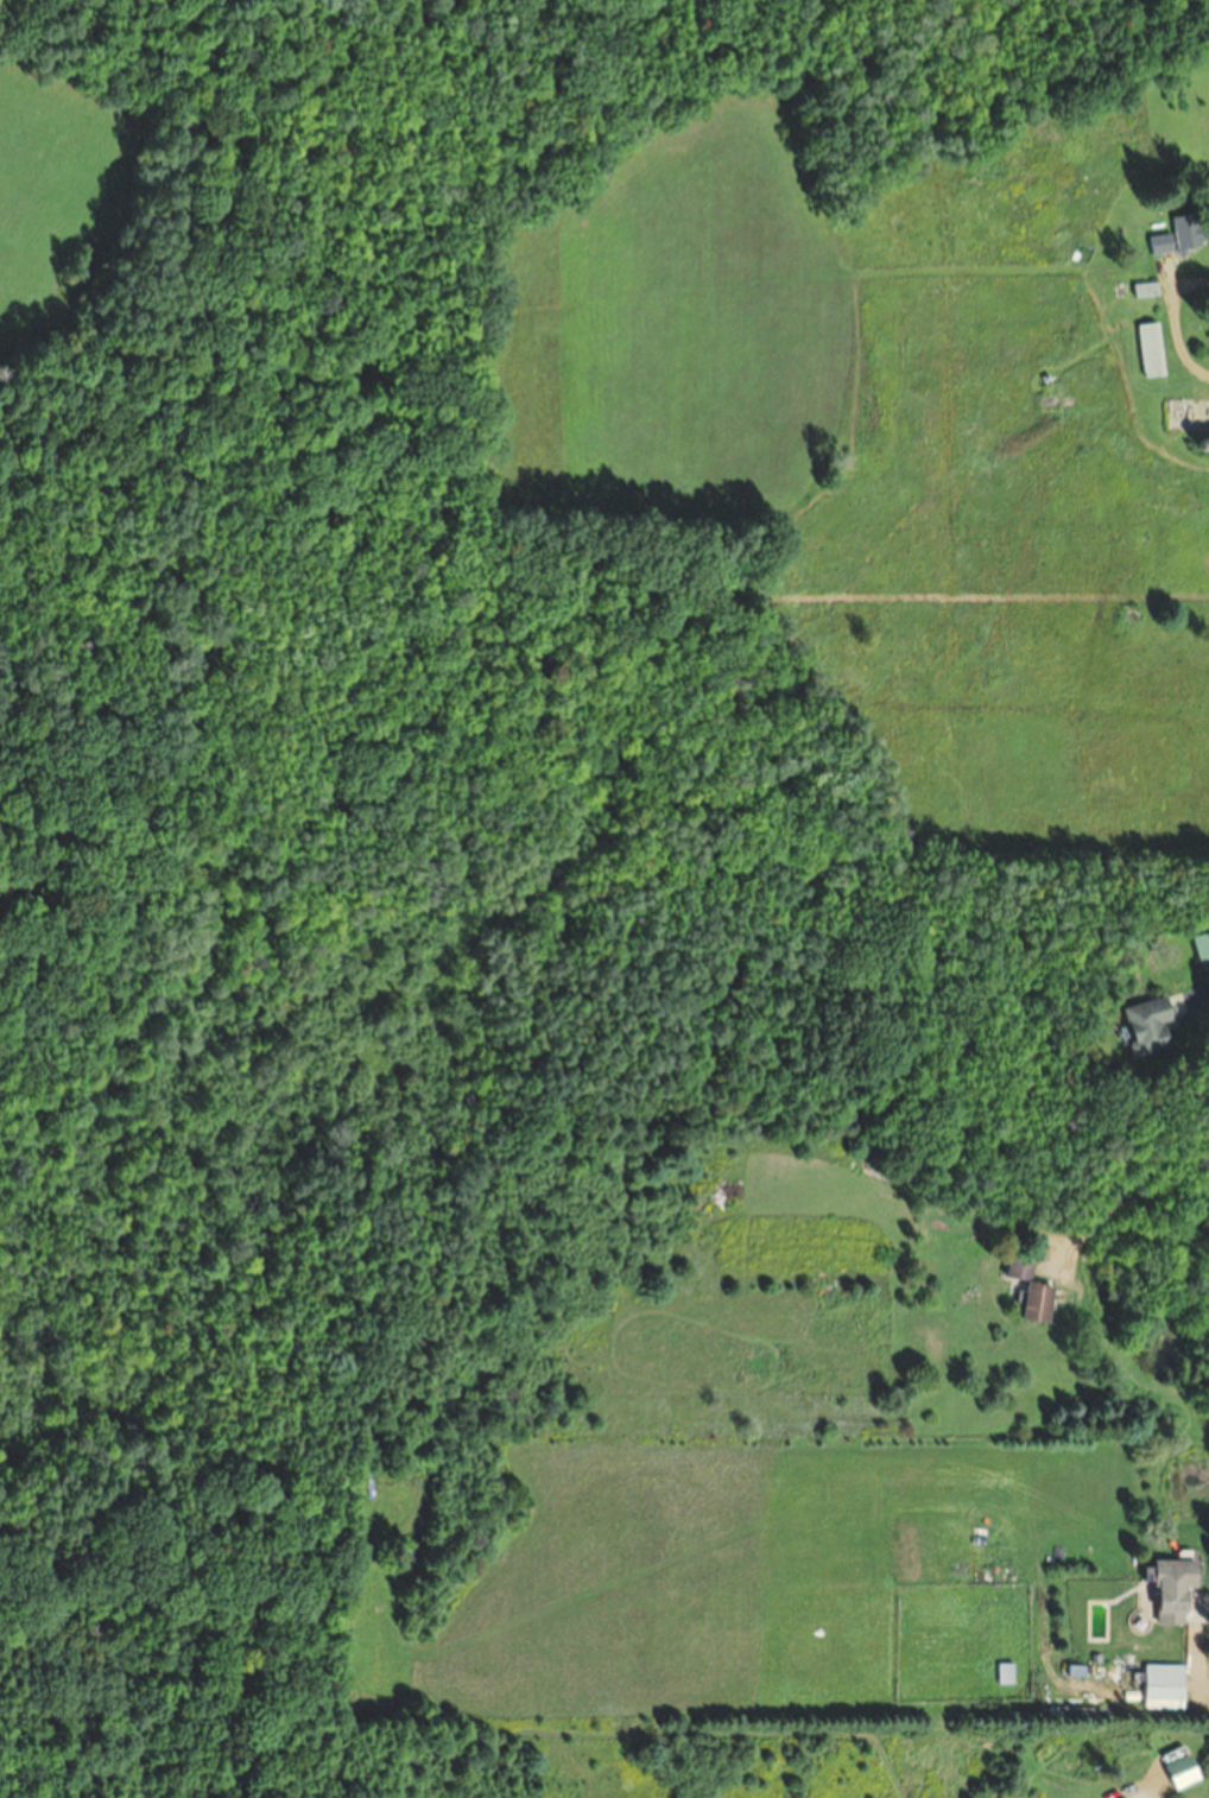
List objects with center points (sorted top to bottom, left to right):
building: (1182, 235)
building: (1147, 289)
building: (1152, 350)
building: (1203, 444)
building: (1202, 947)
building: (1150, 1025)
building: (879, 1176)
building: (1033, 1289)
building: (1176, 1587)
building: (1006, 1673)
building: (1165, 1686)
building: (1128, 1797)

